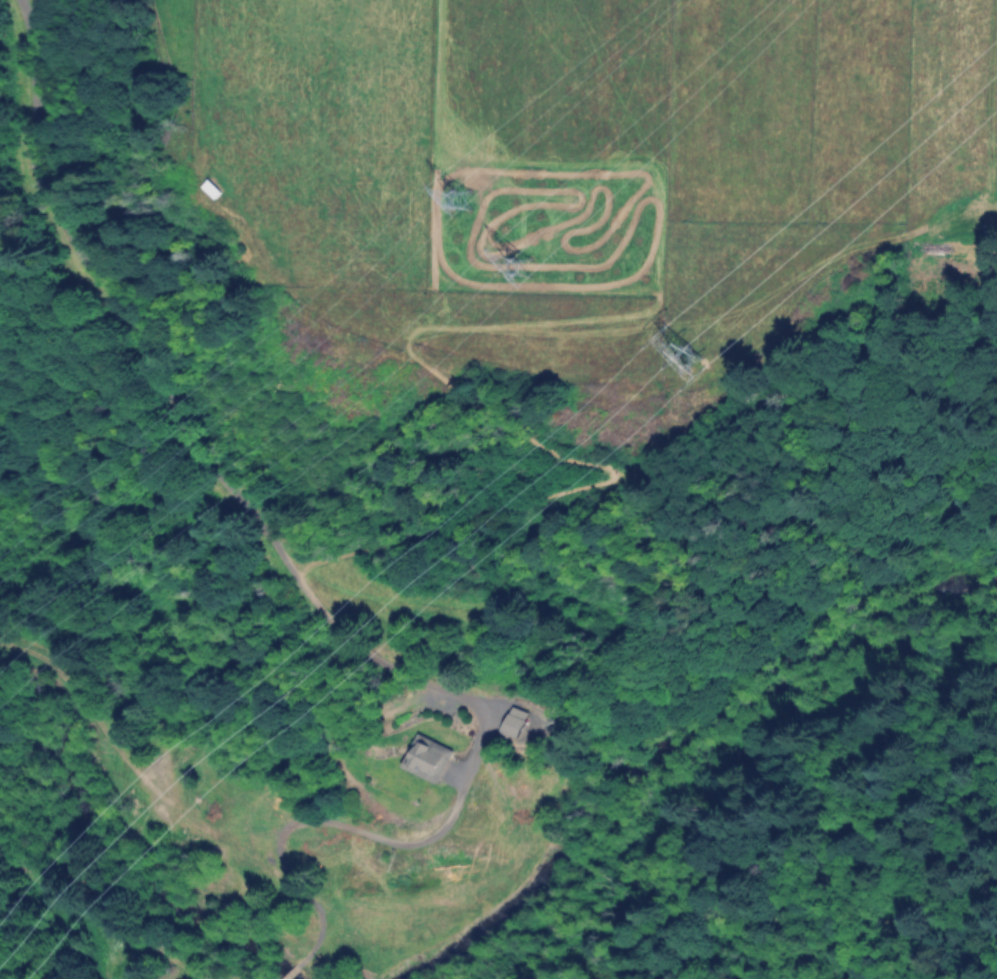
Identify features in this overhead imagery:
power tower: (461, 199)
power tower: (522, 266)
power tower: (692, 357)
road: (184, 434)
building: (516, 721)
building: (430, 759)

